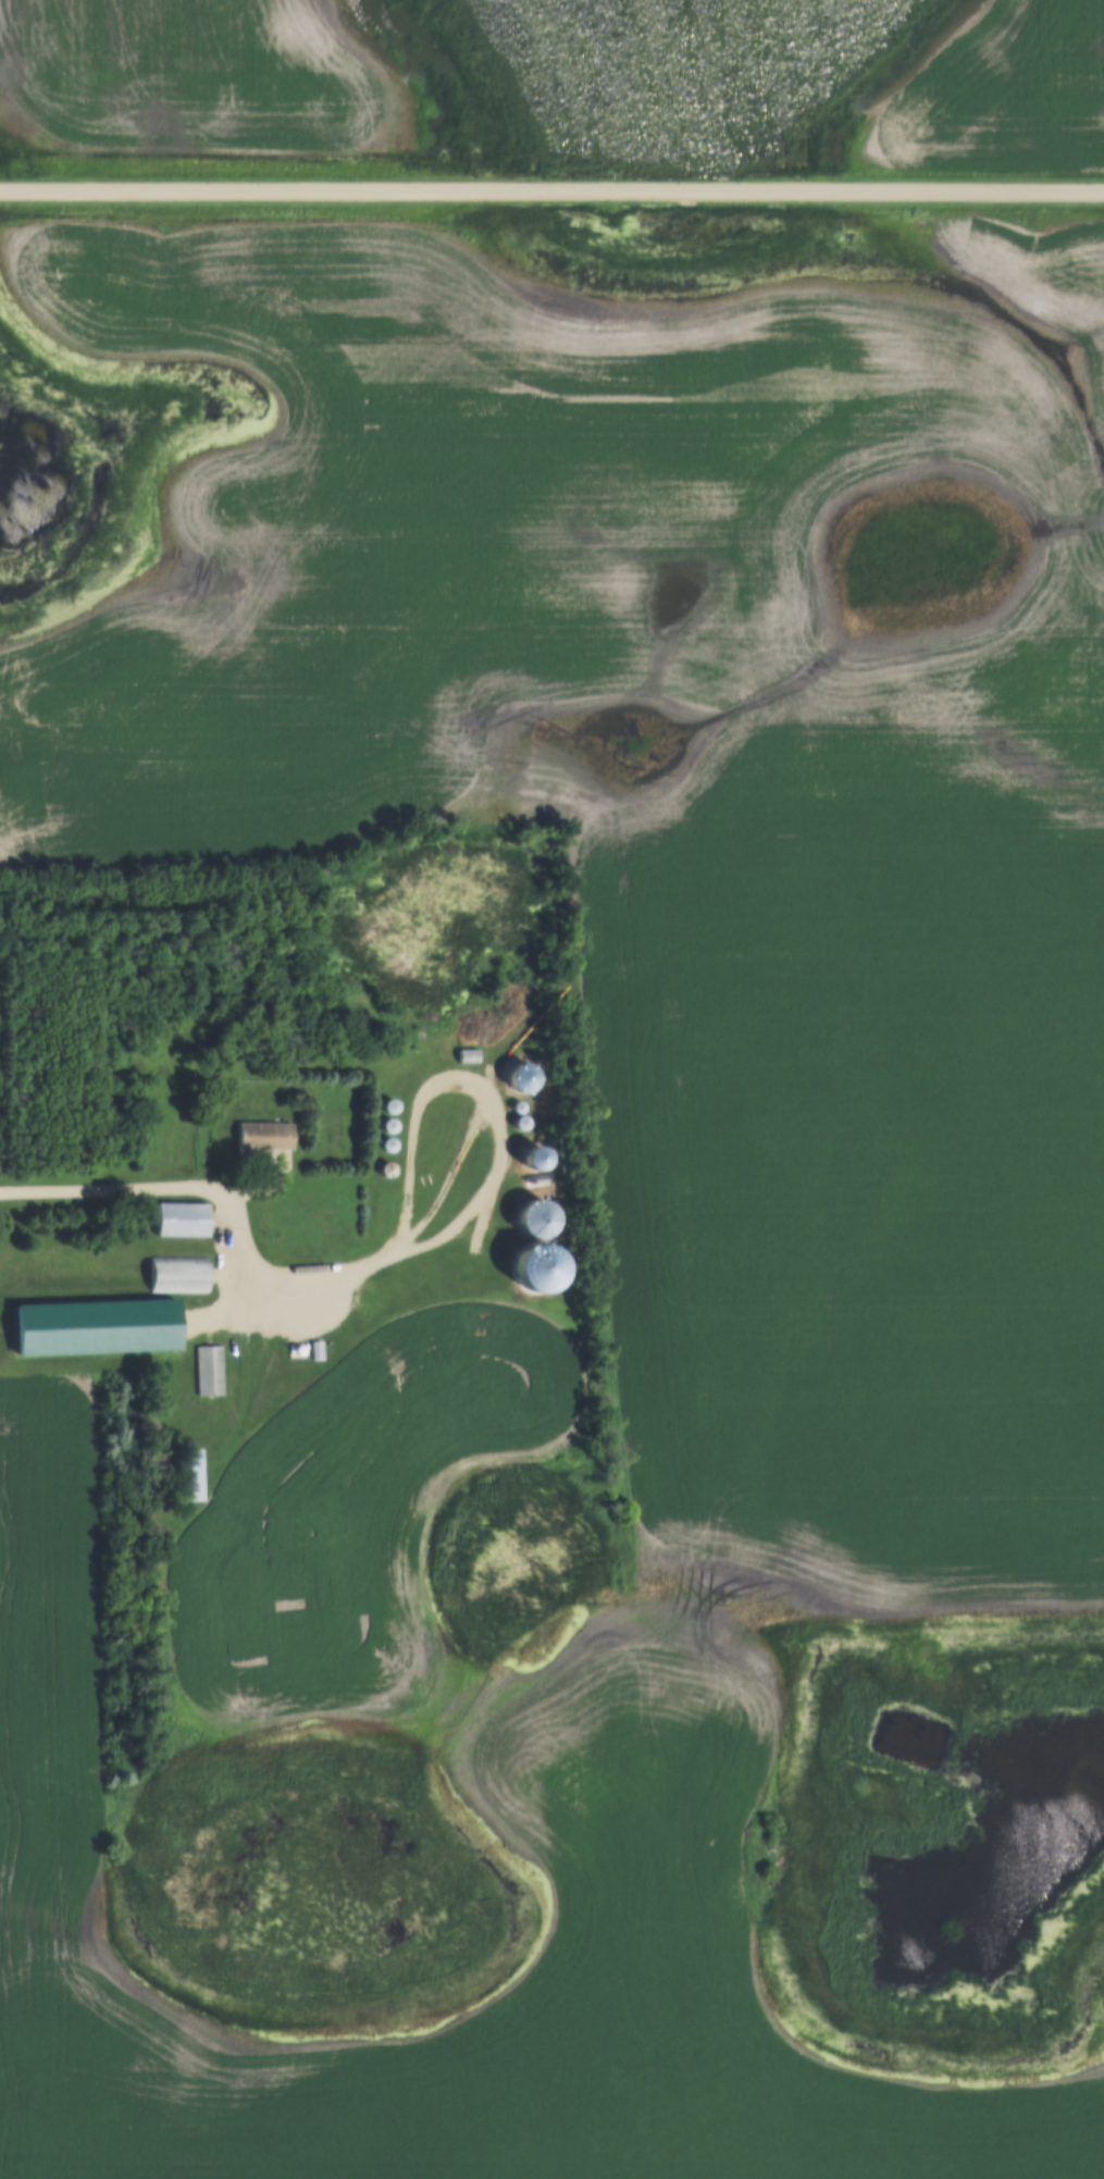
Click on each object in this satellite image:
road: (551, 197)
building: (310, 1053)
silo: (310, 1053)
building: (469, 1057)
building: (517, 1079)
silo: (517, 1079)
building: (517, 1093)
silo: (517, 1093)
building: (388, 1105)
silo: (388, 1105)
building: (518, 1107)
silo: (518, 1107)
building: (520, 1123)
silo: (520, 1123)
building: (387, 1125)
silo: (387, 1125)
building: (386, 1144)
silo: (386, 1144)
building: (262, 1147)
building: (534, 1156)
silo: (534, 1156)
building: (385, 1169)
silo: (385, 1169)
building: (535, 1218)
silo: (535, 1218)
building: (181, 1221)
road: (345, 1270)
building: (178, 1288)
building: (90, 1332)
building: (297, 1349)
building: (315, 1349)
building: (210, 1369)
building: (189, 1474)

